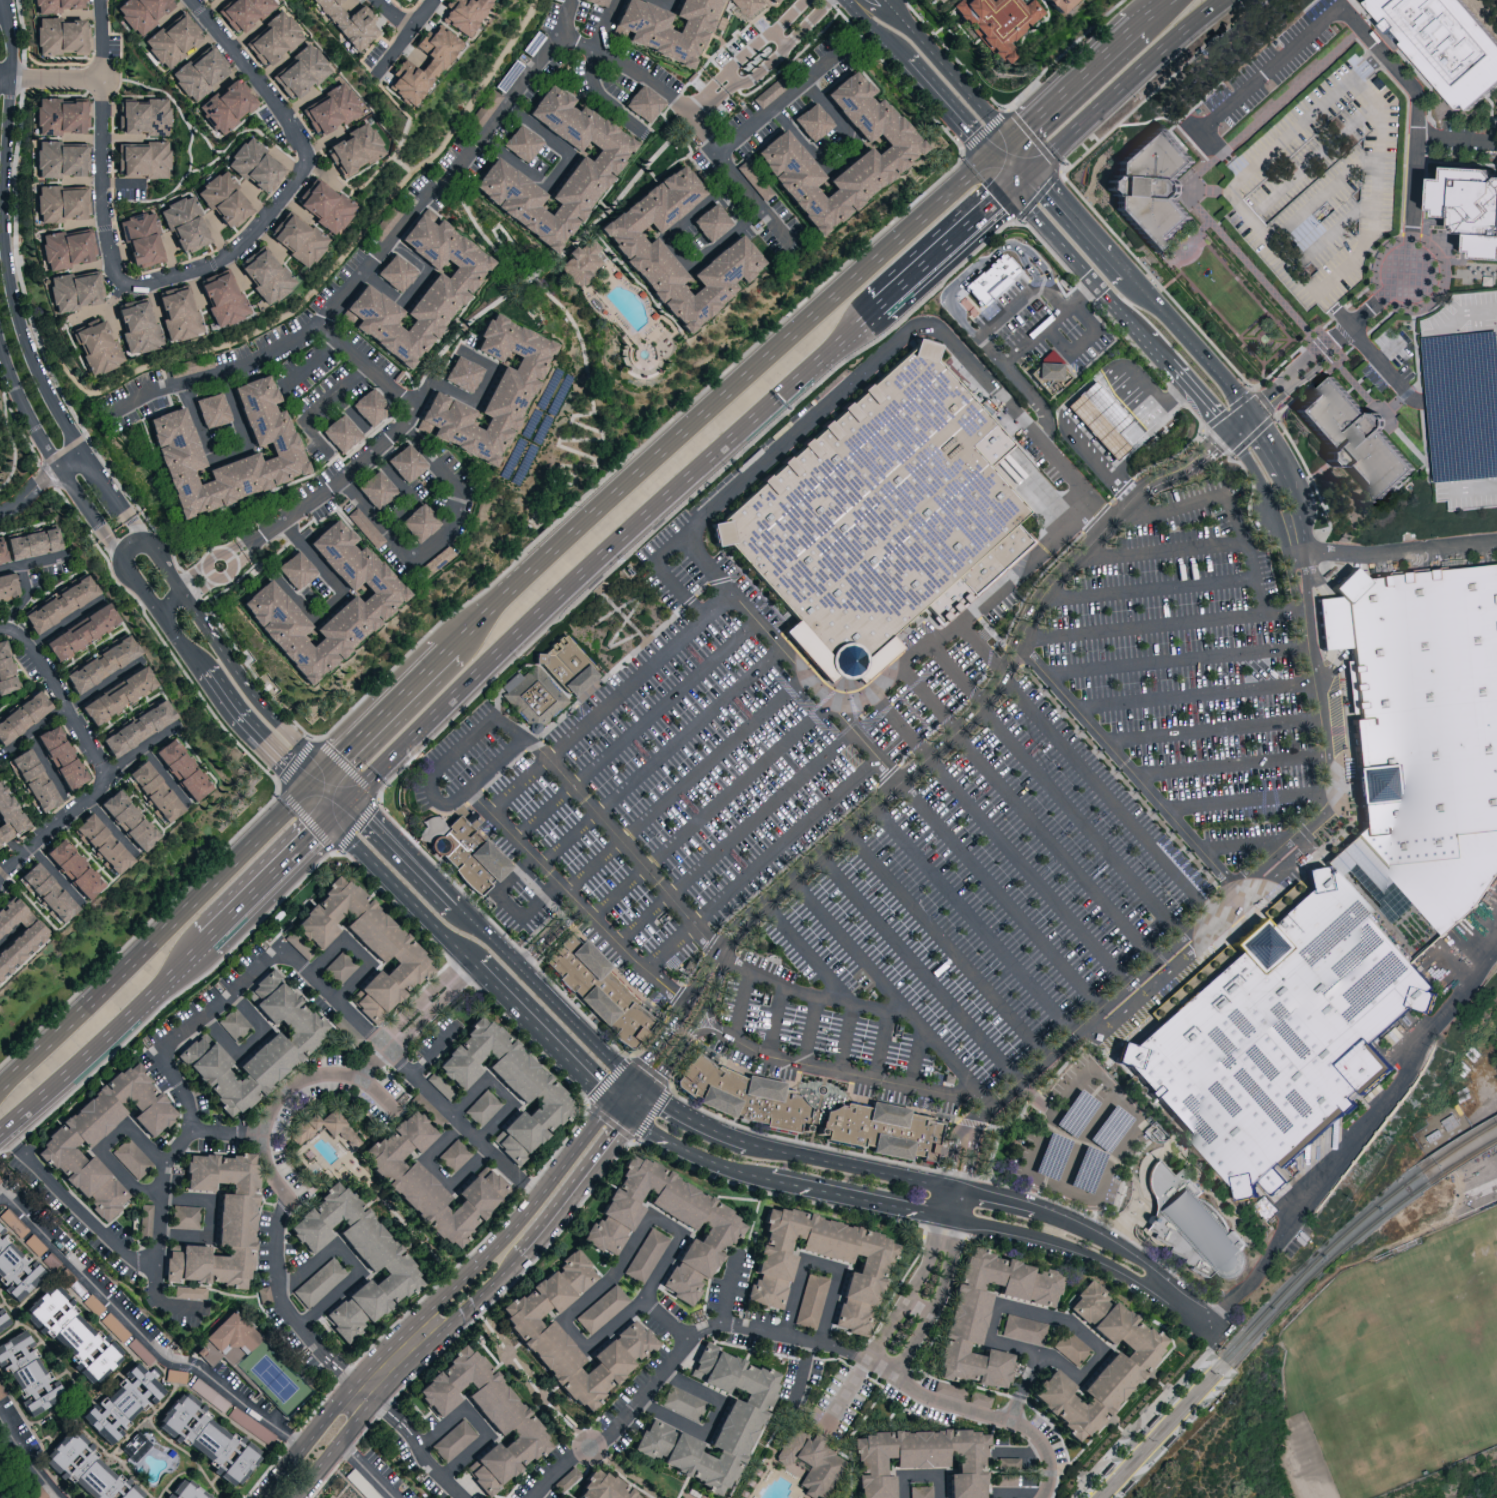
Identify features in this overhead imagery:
building: (208, 1)
building: (597, 2)
road: (663, 3)
building: (1056, 4)
building: (53, 5)
building: (751, 8)
building: (241, 12)
building: (138, 13)
road: (397, 14)
building: (463, 14)
road: (1157, 14)
road: (1460, 14)
building: (998, 22)
building: (348, 23)
road: (608, 23)
road: (1359, 29)
building: (249, 30)
road: (1409, 34)
road: (405, 35)
building: (58, 36)
building: (170, 38)
road: (760, 41)
road: (1456, 43)
building: (1442, 45)
road: (784, 49)
building: (673, 50)
building: (285, 55)
building: (431, 66)
road: (951, 67)
building: (198, 71)
road: (918, 78)
road: (51, 79)
road: (1076, 81)
road: (1133, 82)
road: (600, 95)
road: (703, 96)
road: (785, 96)
road: (1493, 97)
road: (174, 102)
building: (642, 103)
road: (711, 104)
building: (224, 105)
building: (329, 109)
building: (485, 109)
road: (832, 110)
building: (58, 116)
building: (142, 116)
road: (692, 116)
building: (811, 121)
road: (799, 137)
road: (206, 140)
building: (520, 142)
road: (1001, 146)
building: (353, 149)
building: (777, 151)
road: (1026, 151)
road: (841, 155)
traffic signals: (990, 156)
building: (59, 159)
building: (141, 160)
building: (252, 165)
road: (208, 166)
traffic signals: (1039, 167)
road: (1003, 171)
building: (586, 174)
road: (561, 175)
road: (1027, 177)
building: (762, 189)
road: (626, 190)
parking lot: (1323, 190)
building: (1157, 192)
building: (221, 199)
building: (59, 203)
building: (322, 206)
building: (1465, 210)
road: (1083, 219)
building: (388, 221)
building: (710, 221)
building: (182, 224)
building: (139, 239)
building: (296, 240)
building: (65, 248)
road: (945, 248)
road: (378, 251)
building: (641, 253)
road: (677, 254)
building: (582, 262)
road: (980, 266)
road: (191, 270)
building: (395, 272)
road: (8, 274)
building: (263, 275)
road: (542, 275)
road: (1092, 281)
building: (999, 287)
building: (73, 290)
road: (518, 292)
building: (438, 297)
road: (1023, 297)
building: (220, 299)
road: (1382, 306)
building: (176, 313)
road: (1047, 325)
road: (1434, 325)
building: (135, 326)
road: (462, 334)
road: (906, 339)
road: (1083, 344)
road: (1191, 344)
road: (1368, 346)
building: (95, 348)
road: (1440, 354)
road: (309, 361)
road: (586, 364)
building: (191, 365)
building: (1049, 371)
building: (462, 373)
road: (1305, 374)
parking lot: (1447, 377)
road: (1086, 385)
road: (1020, 386)
road: (1461, 389)
building: (488, 394)
road: (1151, 395)
road: (721, 403)
road: (1202, 404)
building: (371, 407)
building: (1440, 408)
building: (210, 410)
traffic signals: (1255, 417)
building: (1100, 418)
gas station: (1099, 427)
road: (1242, 427)
road: (1433, 430)
building: (339, 433)
traffic signals: (1230, 438)
building: (1357, 442)
road: (44, 444)
building: (171, 444)
road: (1274, 446)
road: (1097, 455)
road: (230, 458)
building: (404, 463)
road: (42, 479)
road: (338, 480)
road: (450, 480)
road: (1030, 482)
building: (374, 489)
road: (1267, 492)
building: (1491, 498)
road: (1231, 507)
road: (1086, 511)
road: (1300, 513)
building: (878, 519)
building: (418, 523)
road: (1089, 526)
building: (365, 527)
building: (26, 545)
road: (131, 545)
road: (1164, 553)
road: (1397, 553)
road: (155, 554)
road: (609, 556)
road: (573, 560)
road: (209, 566)
road: (10, 567)
building: (294, 570)
road: (131, 572)
road: (25, 581)
building: (6, 587)
road: (338, 589)
road: (1151, 593)
road: (605, 595)
road: (169, 600)
building: (372, 601)
building: (56, 605)
road: (616, 607)
road: (193, 609)
road: (1291, 610)
road: (162, 615)
road: (626, 619)
road: (1143, 627)
building: (78, 633)
road: (646, 642)
road: (185, 647)
road: (1185, 660)
building: (98, 665)
road: (1320, 674)
building: (4, 675)
building: (556, 687)
road: (1233, 691)
building: (115, 697)
road: (982, 699)
road: (868, 701)
road: (611, 702)
road: (1113, 703)
road: (262, 706)
building: (21, 716)
road: (391, 716)
building: (134, 729)
road: (636, 729)
building: (1426, 731)
road: (1220, 732)
road: (256, 734)
road: (140, 748)
road: (660, 756)
building: (58, 758)
road: (95, 759)
road: (1130, 764)
road: (1236, 765)
road: (1086, 769)
building: (178, 771)
building: (31, 781)
road: (685, 781)
road: (317, 788)
building: (151, 792)
road: (337, 793)
road: (1058, 793)
traffic signals: (308, 797)
road: (1254, 800)
parking lot: (936, 802)
road: (452, 805)
traffic signals: (349, 806)
road: (712, 808)
road: (319, 810)
road: (340, 815)
road: (1030, 817)
building: (9, 820)
building: (125, 821)
traffic signals: (331, 824)
road: (736, 836)
road: (1001, 841)
road: (1253, 844)
building: (99, 845)
road: (626, 846)
road: (1290, 847)
building: (474, 859)
road: (407, 860)
road: (761, 863)
road: (972, 866)
building: (70, 870)
road: (266, 885)
road: (404, 892)
building: (44, 893)
road: (576, 901)
road: (506, 905)
road: (973, 919)
road: (476, 929)
building: (15, 931)
road: (548, 935)
road: (154, 941)
building: (363, 942)
building: (297, 943)
road: (946, 943)
road: (359, 950)
road: (806, 952)
building: (339, 966)
road: (919, 967)
road: (170, 975)
road: (719, 980)
road: (882, 984)
road: (1130, 985)
road: (695, 989)
road: (227, 994)
building: (610, 995)
road: (814, 995)
road: (422, 997)
road: (741, 1005)
road: (433, 1010)
road: (561, 1011)
road: (699, 1019)
road: (712, 1019)
road: (775, 1021)
building: (234, 1023)
building: (347, 1030)
road: (810, 1030)
road: (704, 1032)
building: (1291, 1033)
road: (543, 1037)
road: (727, 1037)
road: (843, 1037)
road: (252, 1040)
building: (285, 1044)
road: (882, 1045)
road: (650, 1054)
road: (918, 1058)
road: (371, 1063)
road: (666, 1064)
road: (69, 1067)
road: (853, 1074)
building: (506, 1084)
traffic signals: (631, 1084)
building: (441, 1085)
road: (1024, 1086)
road: (638, 1089)
road: (286, 1090)
road: (501, 1090)
fountain: (825, 1093)
road: (623, 1095)
traffic signals: (646, 1095)
road: (985, 1098)
building: (752, 1102)
traffic signals: (616, 1106)
road: (637, 1106)
building: (482, 1108)
building: (428, 1110)
road: (622, 1111)
road: (1059, 1111)
traffic signals: (629, 1117)
road: (700, 1122)
building: (323, 1127)
road: (225, 1135)
building: (894, 1138)
road: (8, 1139)
building: (57, 1141)
road: (967, 1142)
road: (104, 1144)
road: (1358, 1144)
railway: (1459, 1148)
road: (692, 1151)
building: (453, 1155)
building: (131, 1158)
railway: (1462, 1162)
road: (856, 1167)
road: (439, 1171)
building: (0, 1180)
building: (429, 1180)
road: (575, 1187)
road: (530, 1188)
road: (855, 1197)
road: (1082, 1197)
road: (1008, 1202)
road: (953, 1203)
road: (80, 1213)
building: (185, 1216)
road: (211, 1218)
building: (145, 1221)
building: (217, 1221)
building: (13, 1222)
building: (608, 1227)
building: (1193, 1227)
road: (1057, 1245)
road: (1115, 1246)
building: (645, 1255)
road: (352, 1262)
building: (386, 1262)
road: (821, 1264)
building: (14, 1269)
building: (771, 1271)
road: (922, 1271)
road: (945, 1280)
road: (277, 1282)
building: (318, 1282)
road: (735, 1286)
building: (189, 1292)
road: (594, 1293)
building: (264, 1294)
building: (811, 1301)
road: (441, 1302)
building: (93, 1304)
road: (1016, 1306)
building: (601, 1308)
road: (1190, 1312)
building: (962, 1322)
building: (1, 1326)
building: (536, 1327)
railway: (1252, 1327)
building: (1024, 1329)
railway: (1260, 1331)
building: (71, 1332)
road: (142, 1332)
building: (230, 1337)
road: (880, 1342)
building: (1071, 1347)
road: (677, 1352)
railway: (1211, 1353)
road: (906, 1357)
building: (1126, 1361)
road: (341, 1363)
railway: (1232, 1369)
road: (335, 1371)
building: (26, 1372)
road: (402, 1372)
building: (175, 1375)
park: (271, 1377)
road: (851, 1390)
building: (950, 1390)
road: (368, 1391)
building: (980, 1399)
building: (121, 1400)
building: (683, 1403)
road: (387, 1410)
building: (483, 1415)
road: (982, 1415)
road: (710, 1420)
road: (477, 1423)
building: (732, 1428)
building: (207, 1438)
building: (453, 1440)
building: (136, 1446)
road: (29, 1458)
building: (919, 1459)
road: (425, 1460)
building: (810, 1462)
building: (1008, 1462)
building: (86, 1468)
road: (367, 1470)
road: (925, 1475)
building: (1006, 1480)
building: (602, 1486)
building: (183, 1490)
building: (37, 1491)
building: (920, 1491)

